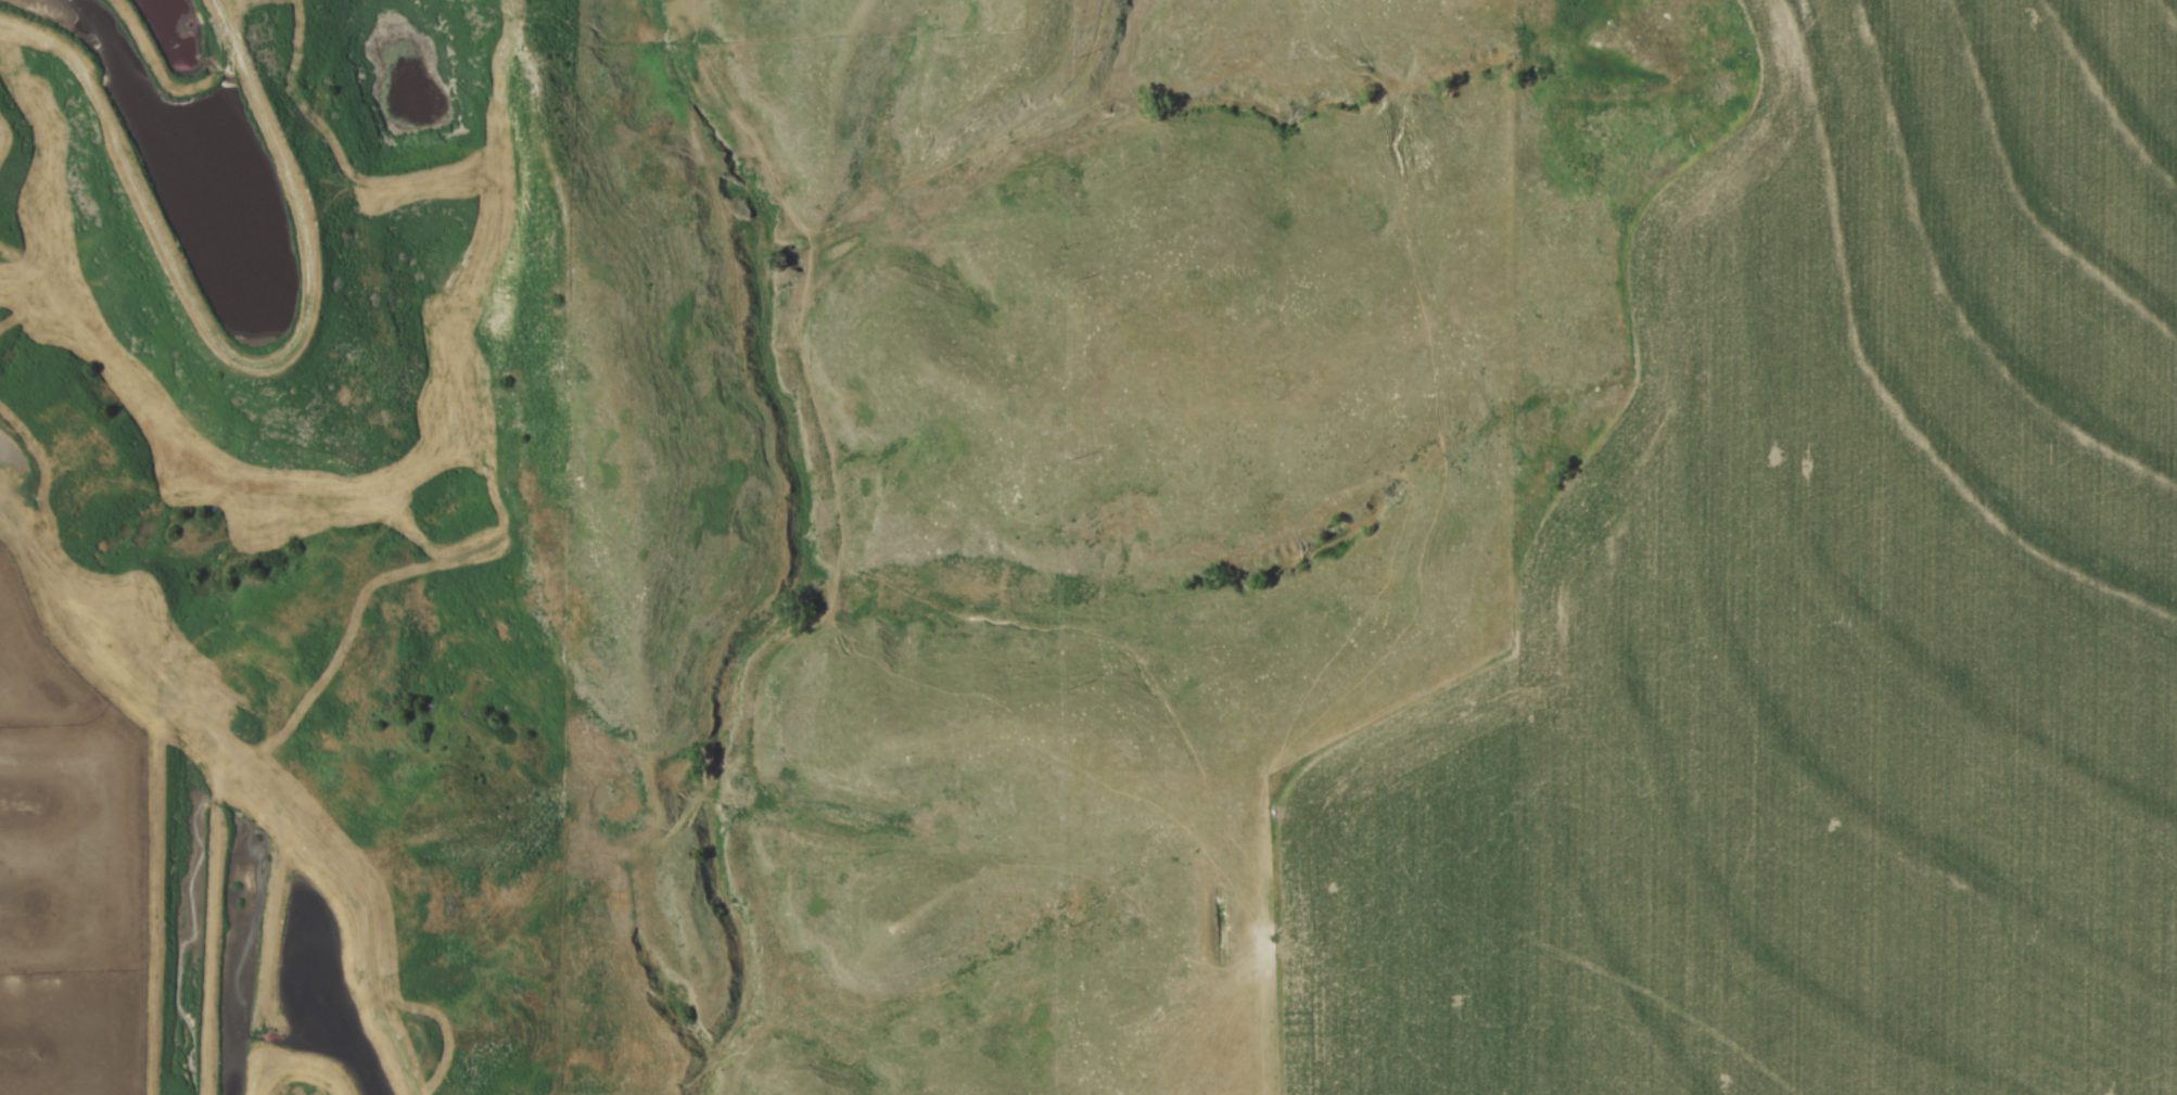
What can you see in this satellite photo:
crop: (1816, 625)

